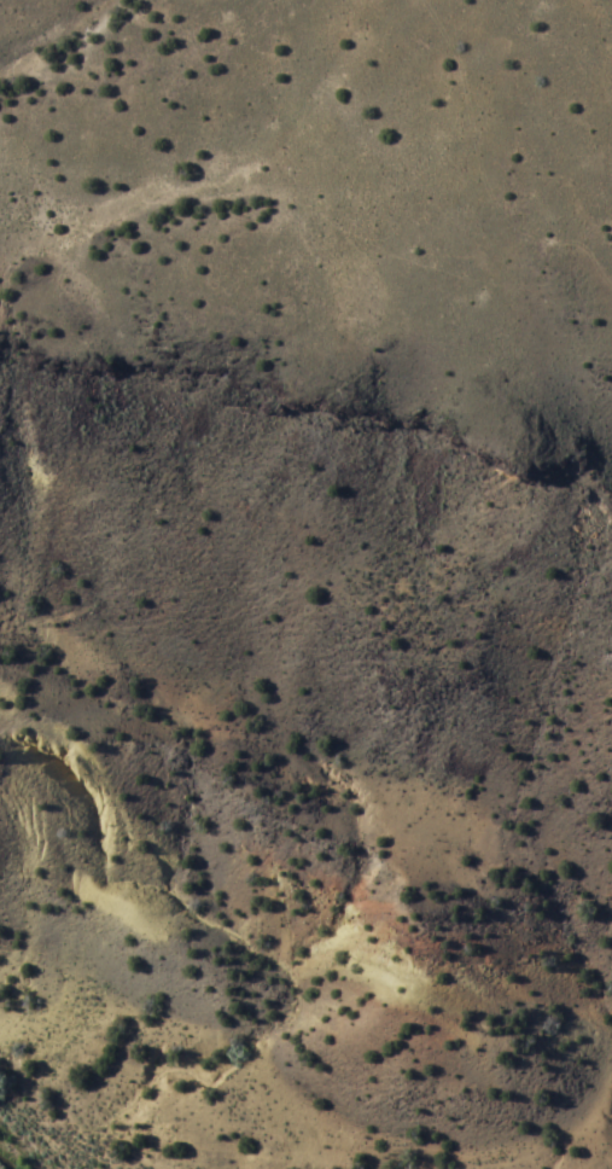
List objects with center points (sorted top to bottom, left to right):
river: (13, 1161)

